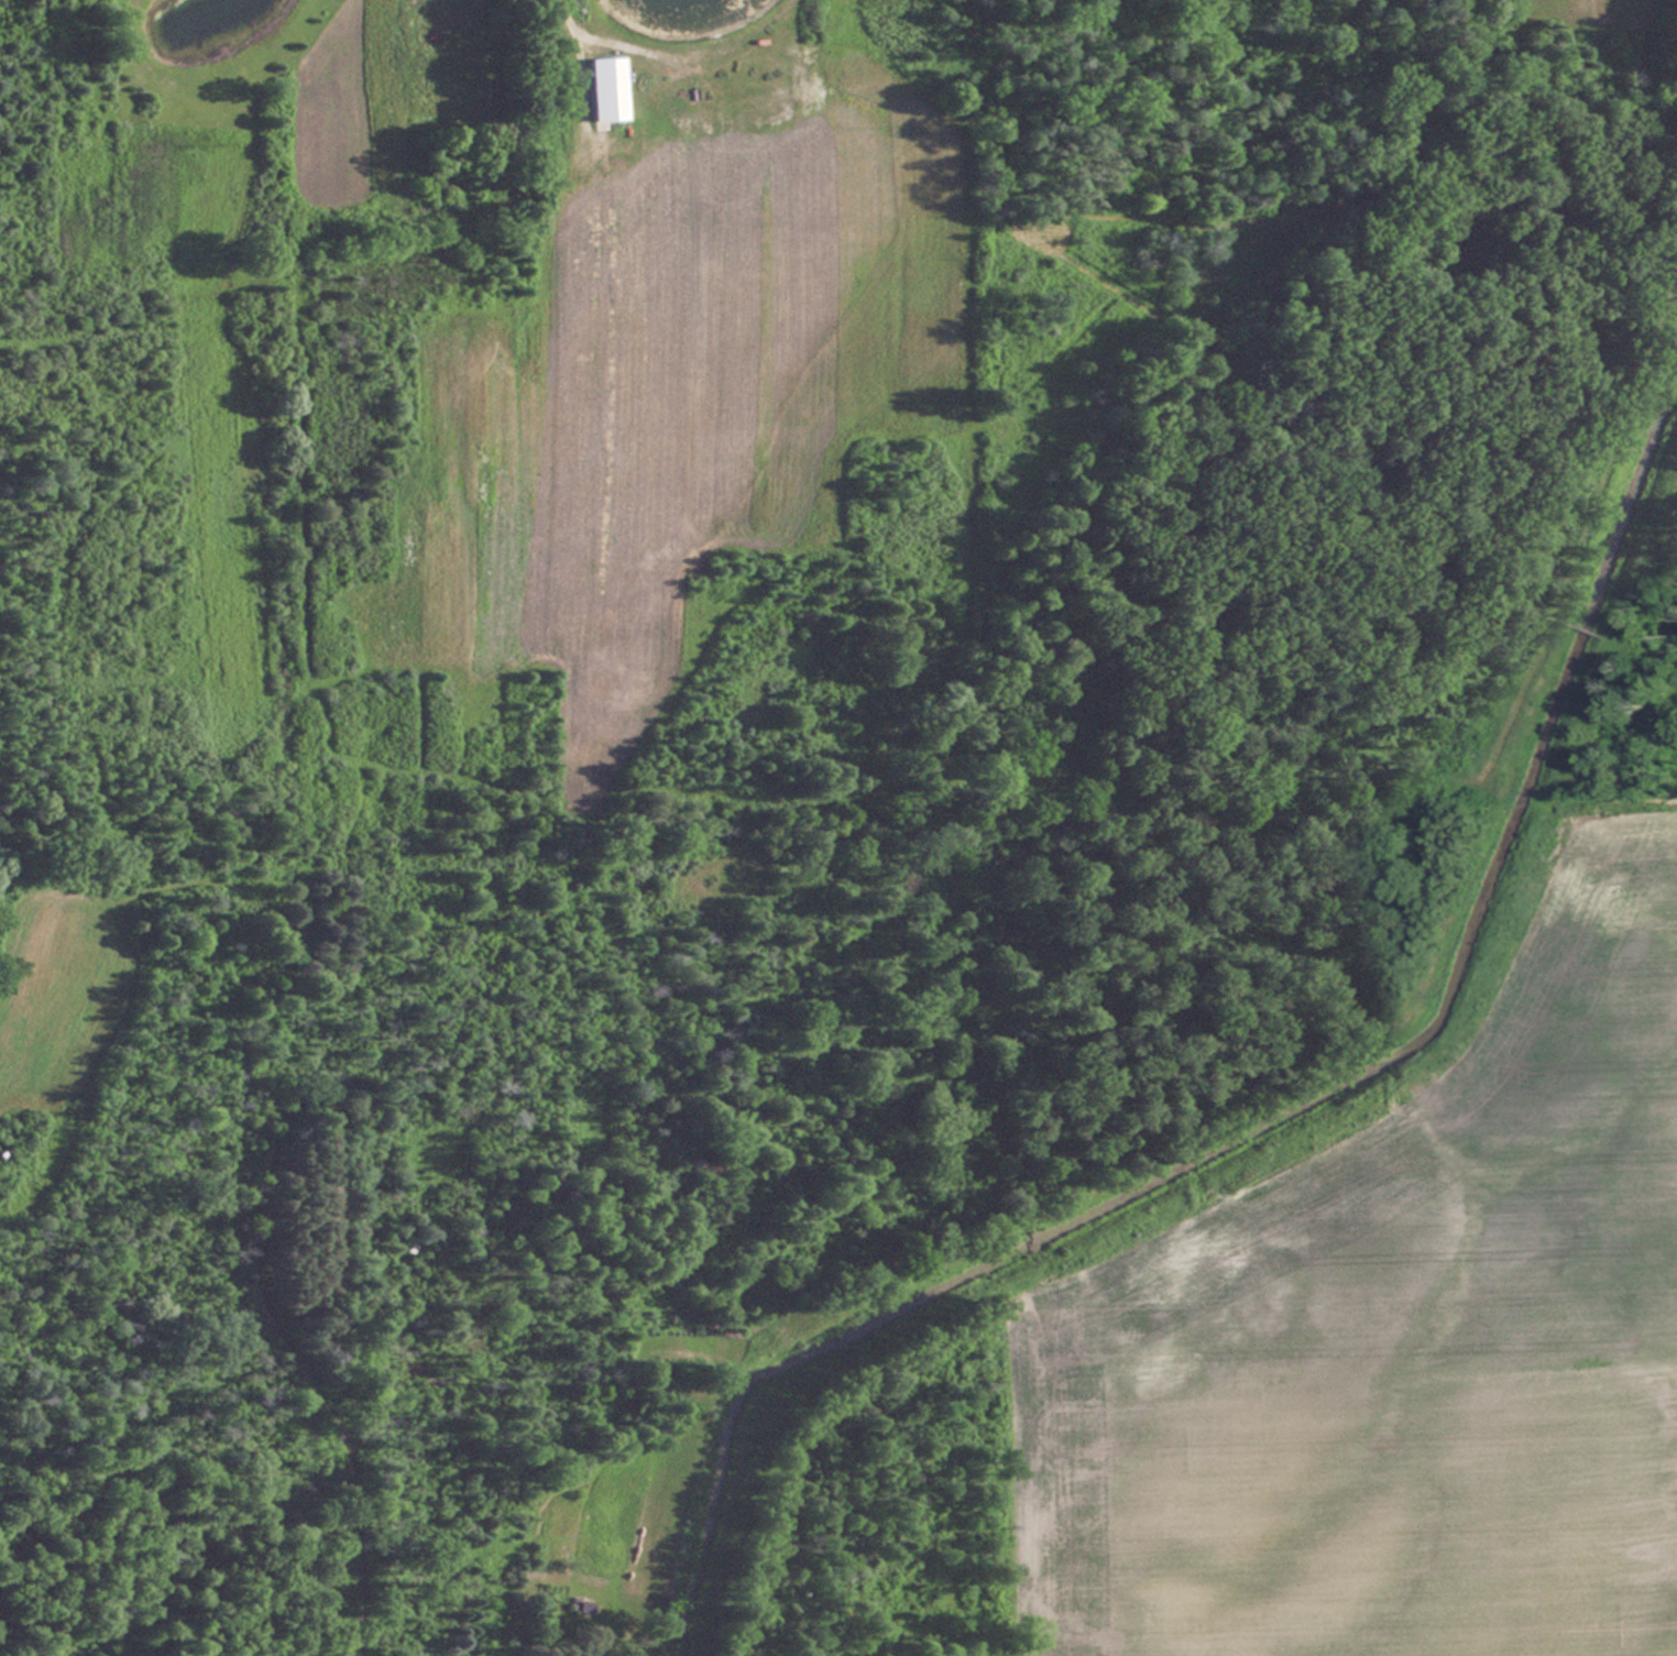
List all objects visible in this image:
building: (579, 1609)

